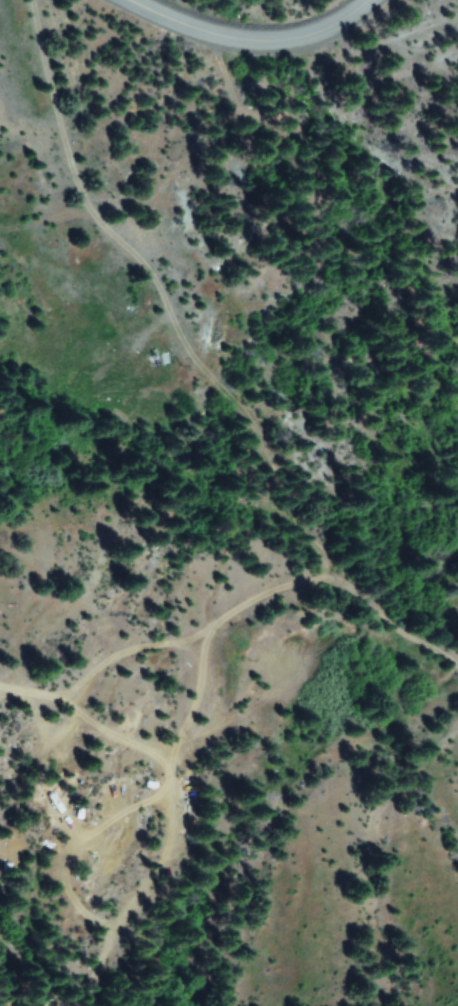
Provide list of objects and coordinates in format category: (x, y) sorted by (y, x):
road: (250, 38)

